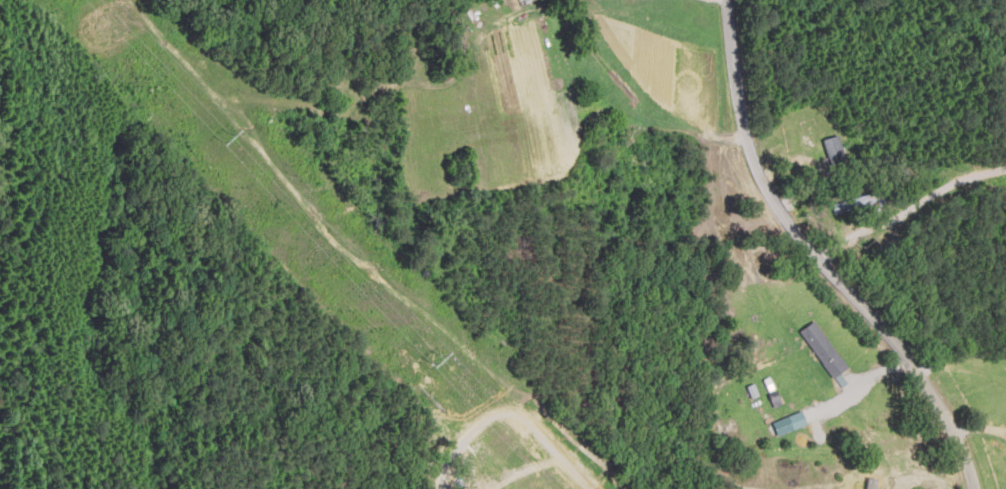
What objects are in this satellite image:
building: (835, 150)
road: (832, 254)
building: (825, 349)

